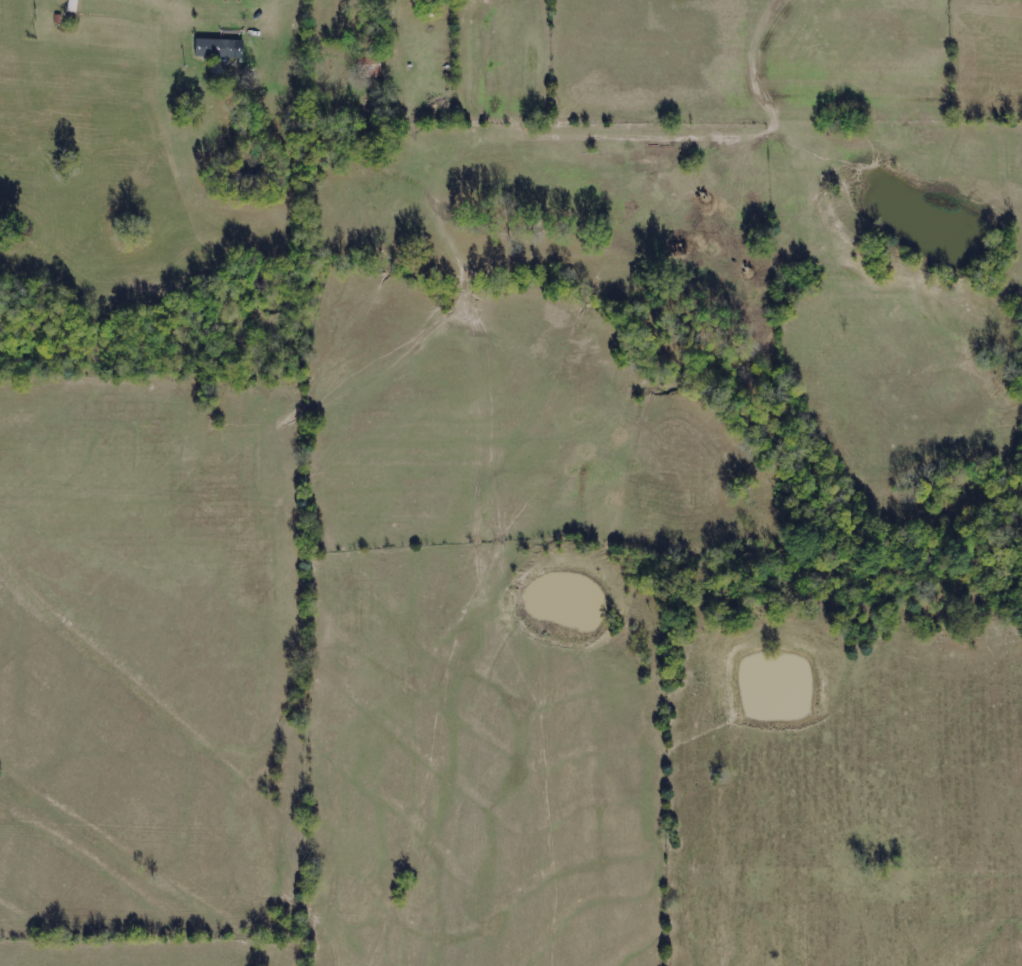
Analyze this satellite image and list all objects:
building: (219, 48)

